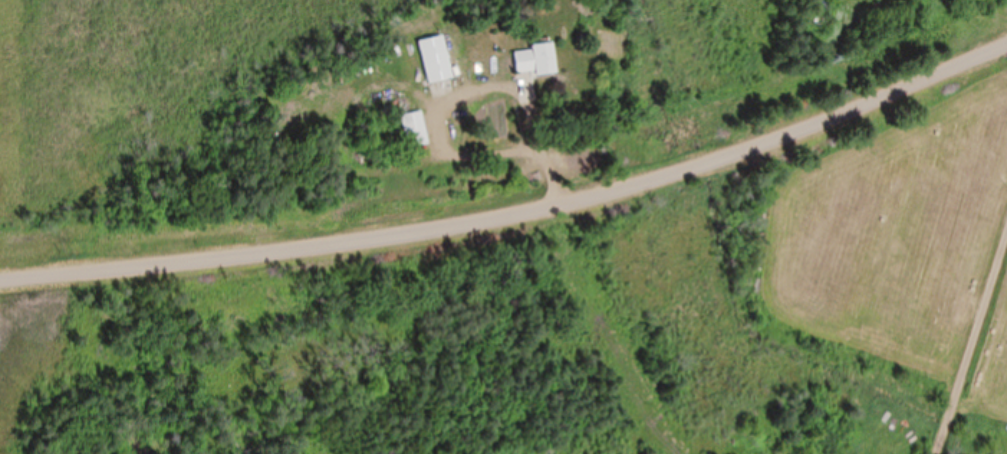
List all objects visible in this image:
building: (821, 11)
building: (436, 59)
building: (536, 60)
building: (414, 130)
road: (517, 226)
road: (990, 412)

